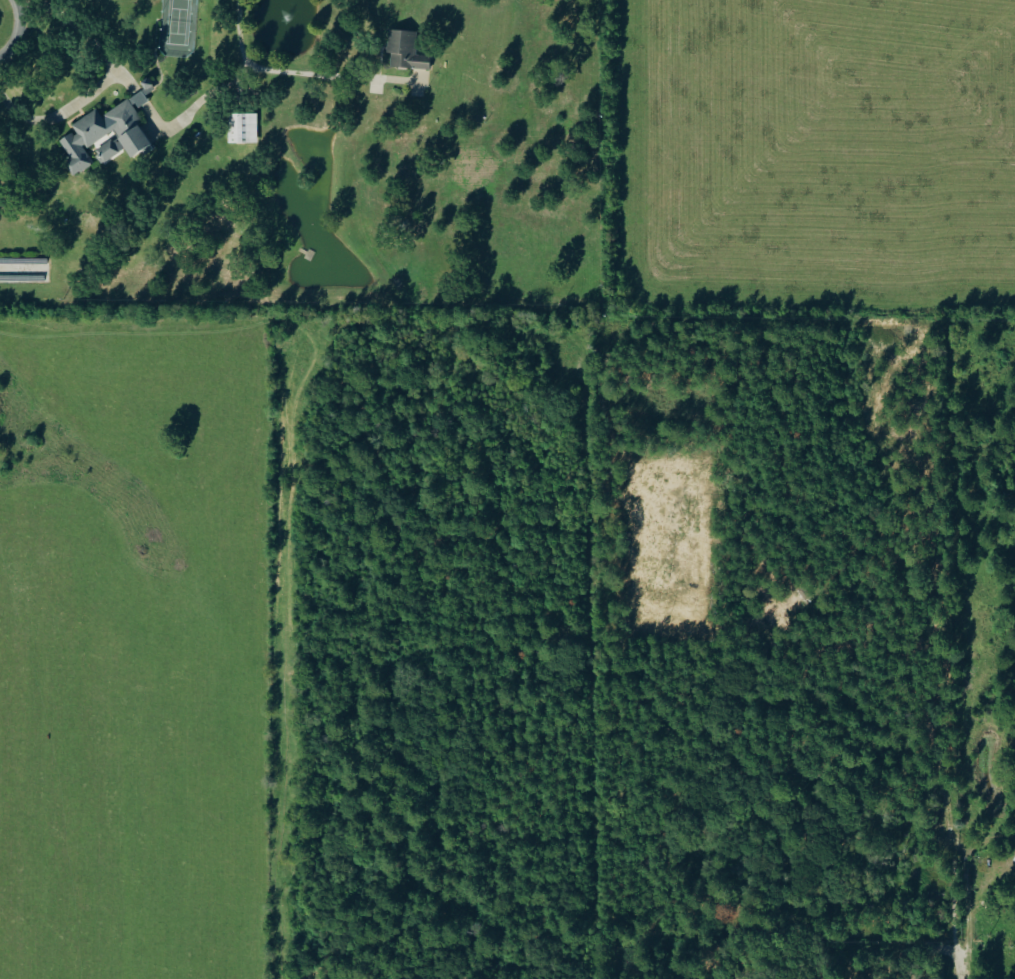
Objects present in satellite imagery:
road: (17, 30)
building: (405, 51)
road: (297, 71)
road: (107, 77)
road: (207, 96)
building: (242, 128)
building: (107, 132)

